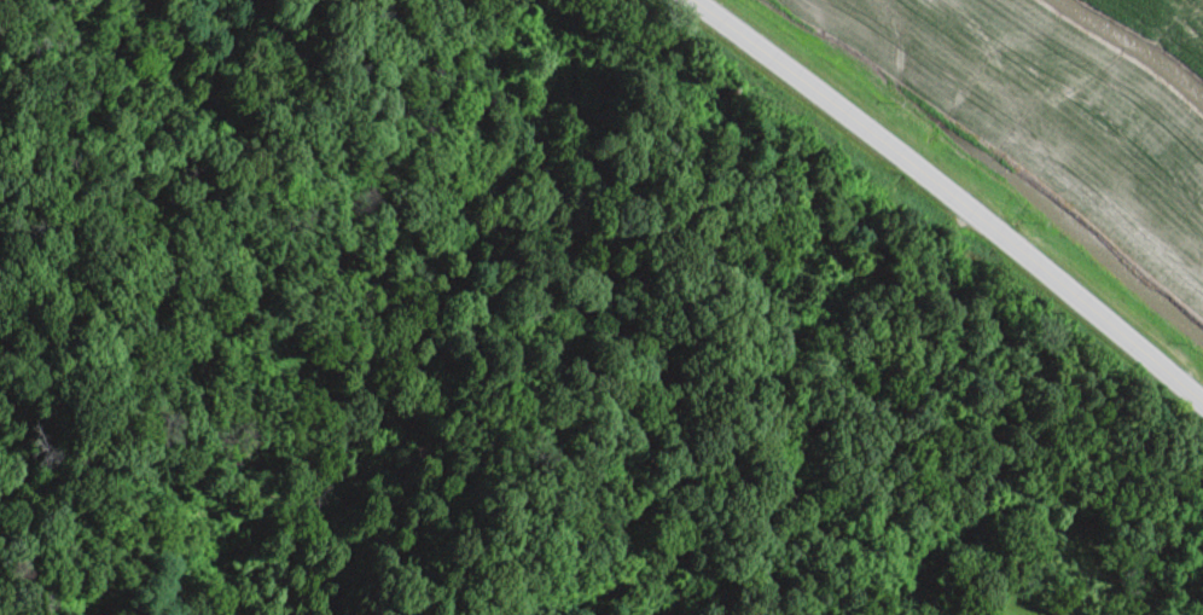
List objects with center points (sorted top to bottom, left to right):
road: (955, 197)

